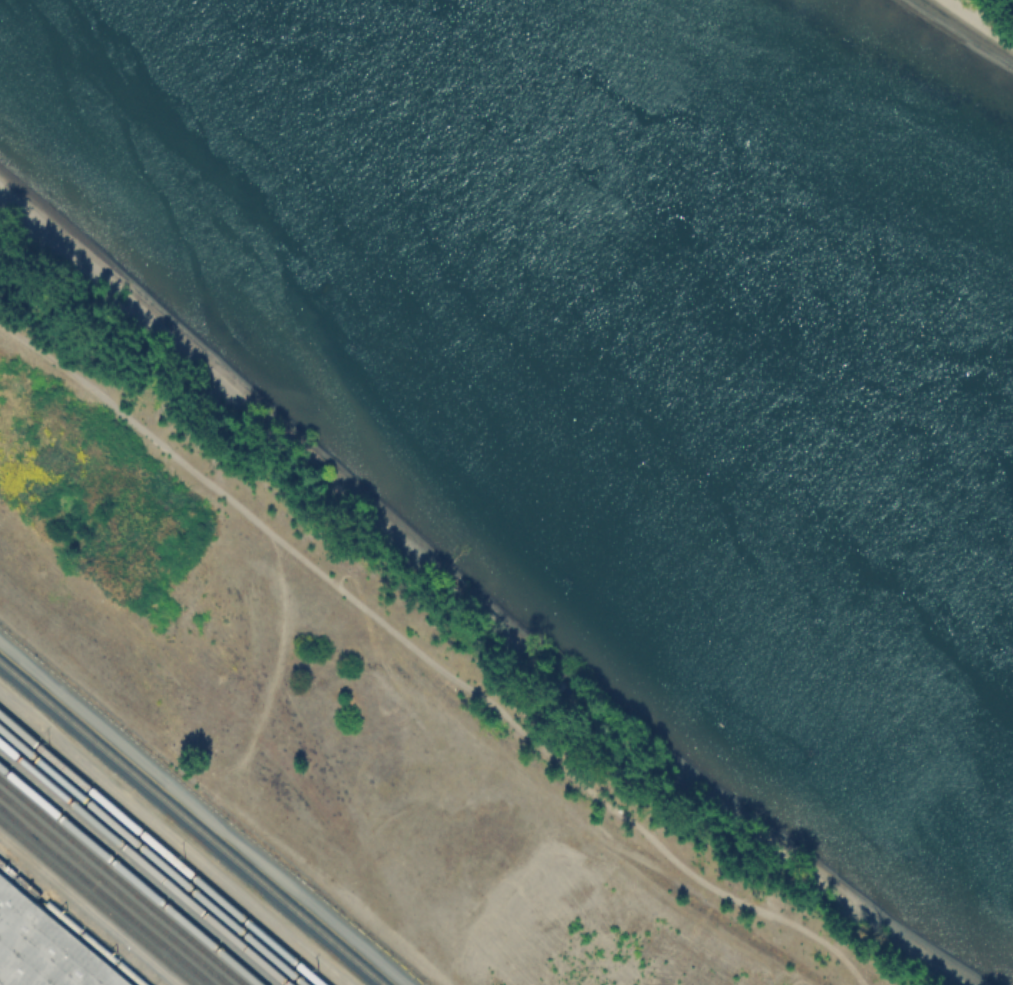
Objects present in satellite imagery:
river: (682, 261)
railway: (190, 824)
railway: (160, 849)
railway: (152, 857)
railway: (143, 864)
railway: (129, 876)
railway: (122, 882)
railway: (112, 890)
railway: (104, 897)
railway: (94, 904)
road: (87, 909)
railway: (70, 925)
building: (43, 949)

